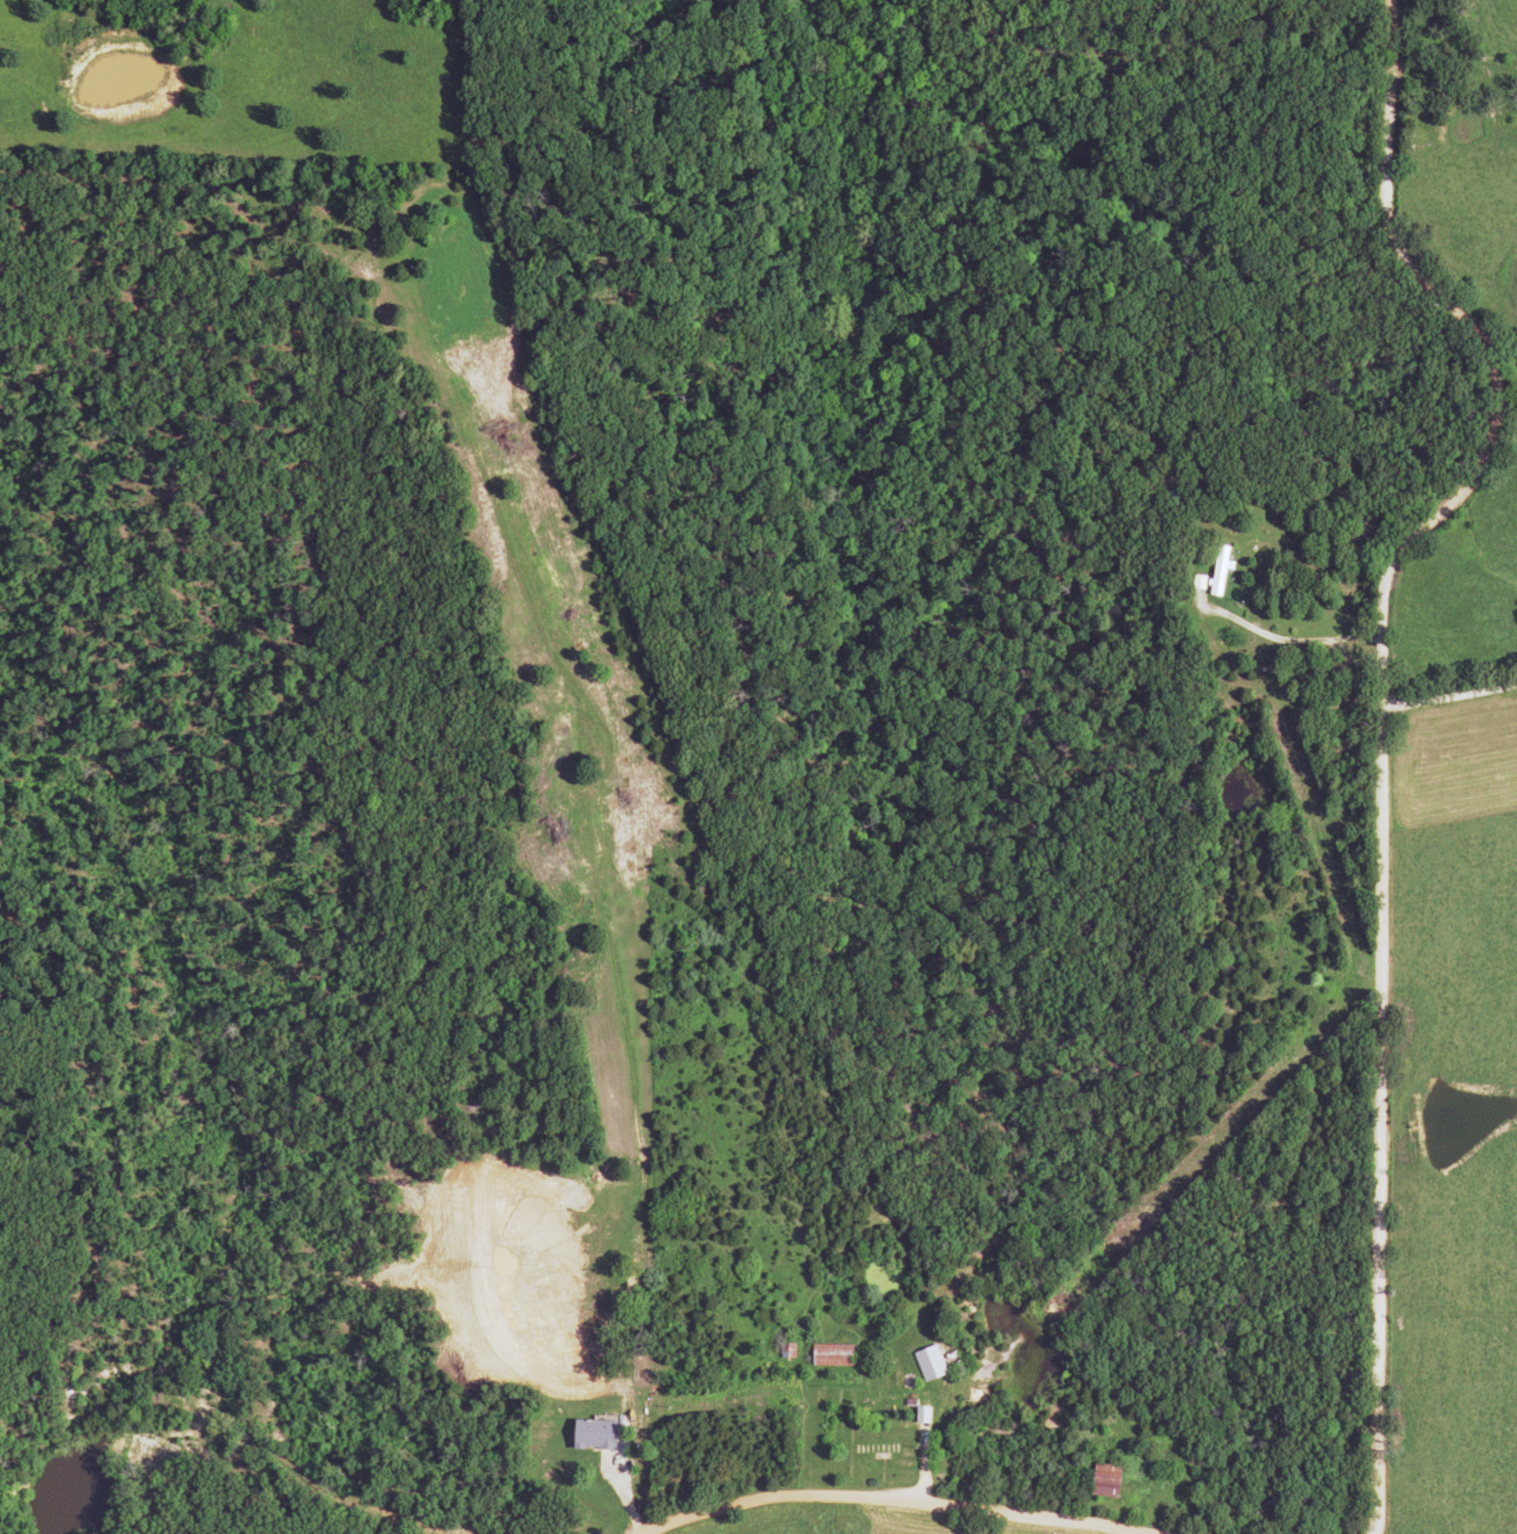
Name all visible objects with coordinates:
building: (1216, 571)
building: (1219, 638)
road: (1450, 696)
road: (1383, 730)
building: (828, 1356)
building: (926, 1363)
building: (590, 1435)
building: (872, 1450)
building: (1100, 1486)
road: (867, 1505)

